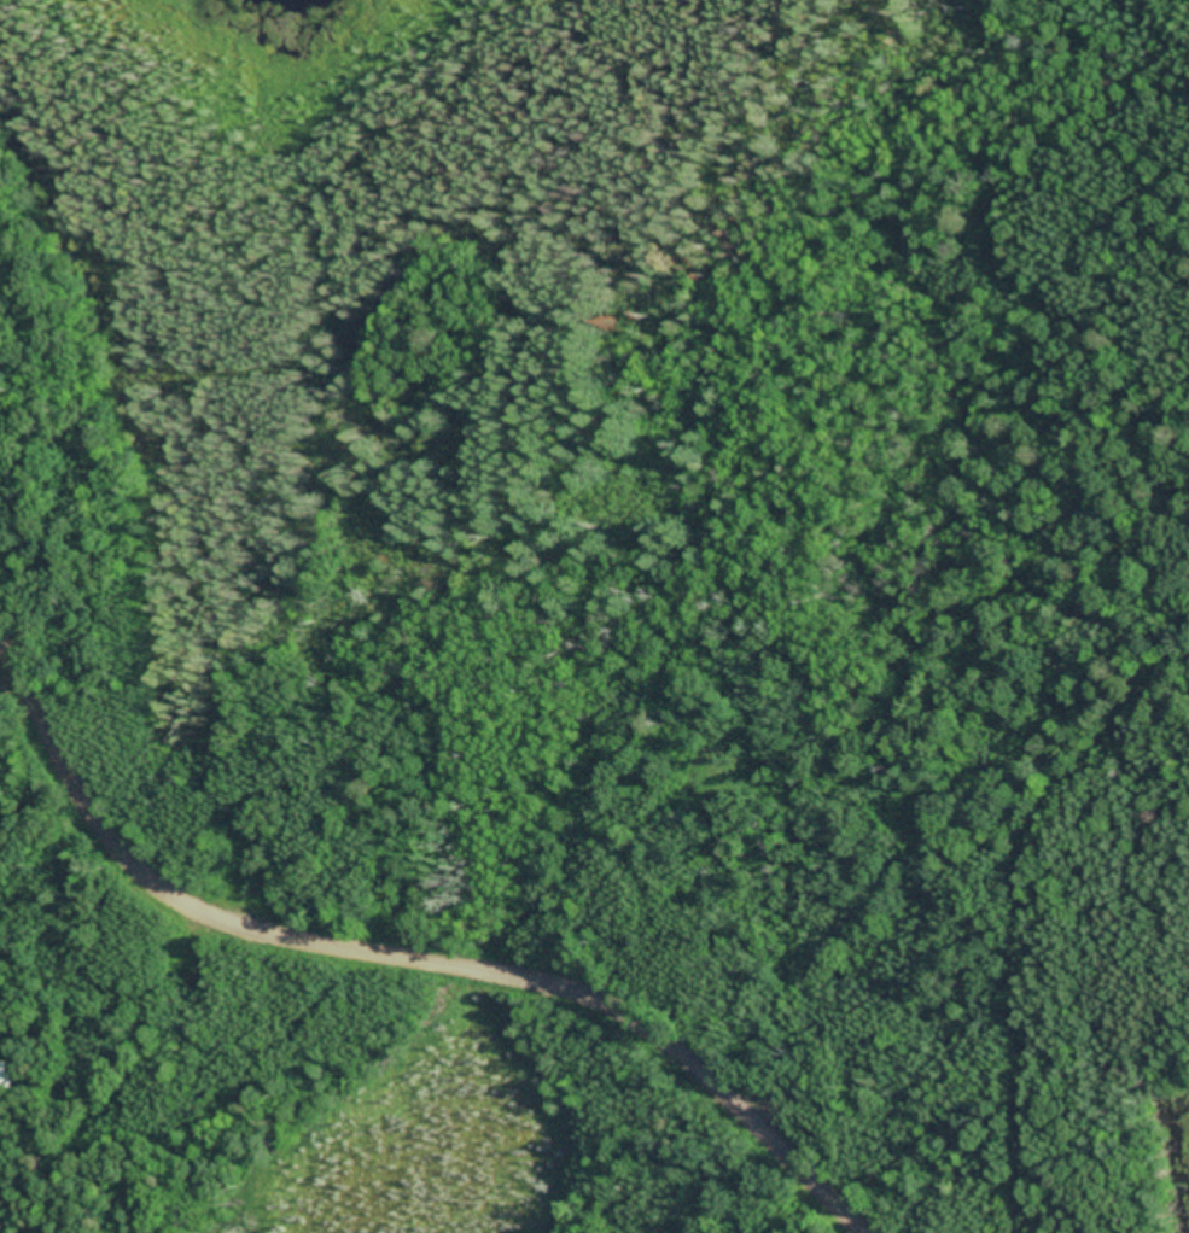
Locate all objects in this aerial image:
road: (395, 957)
building: (6, 1076)

